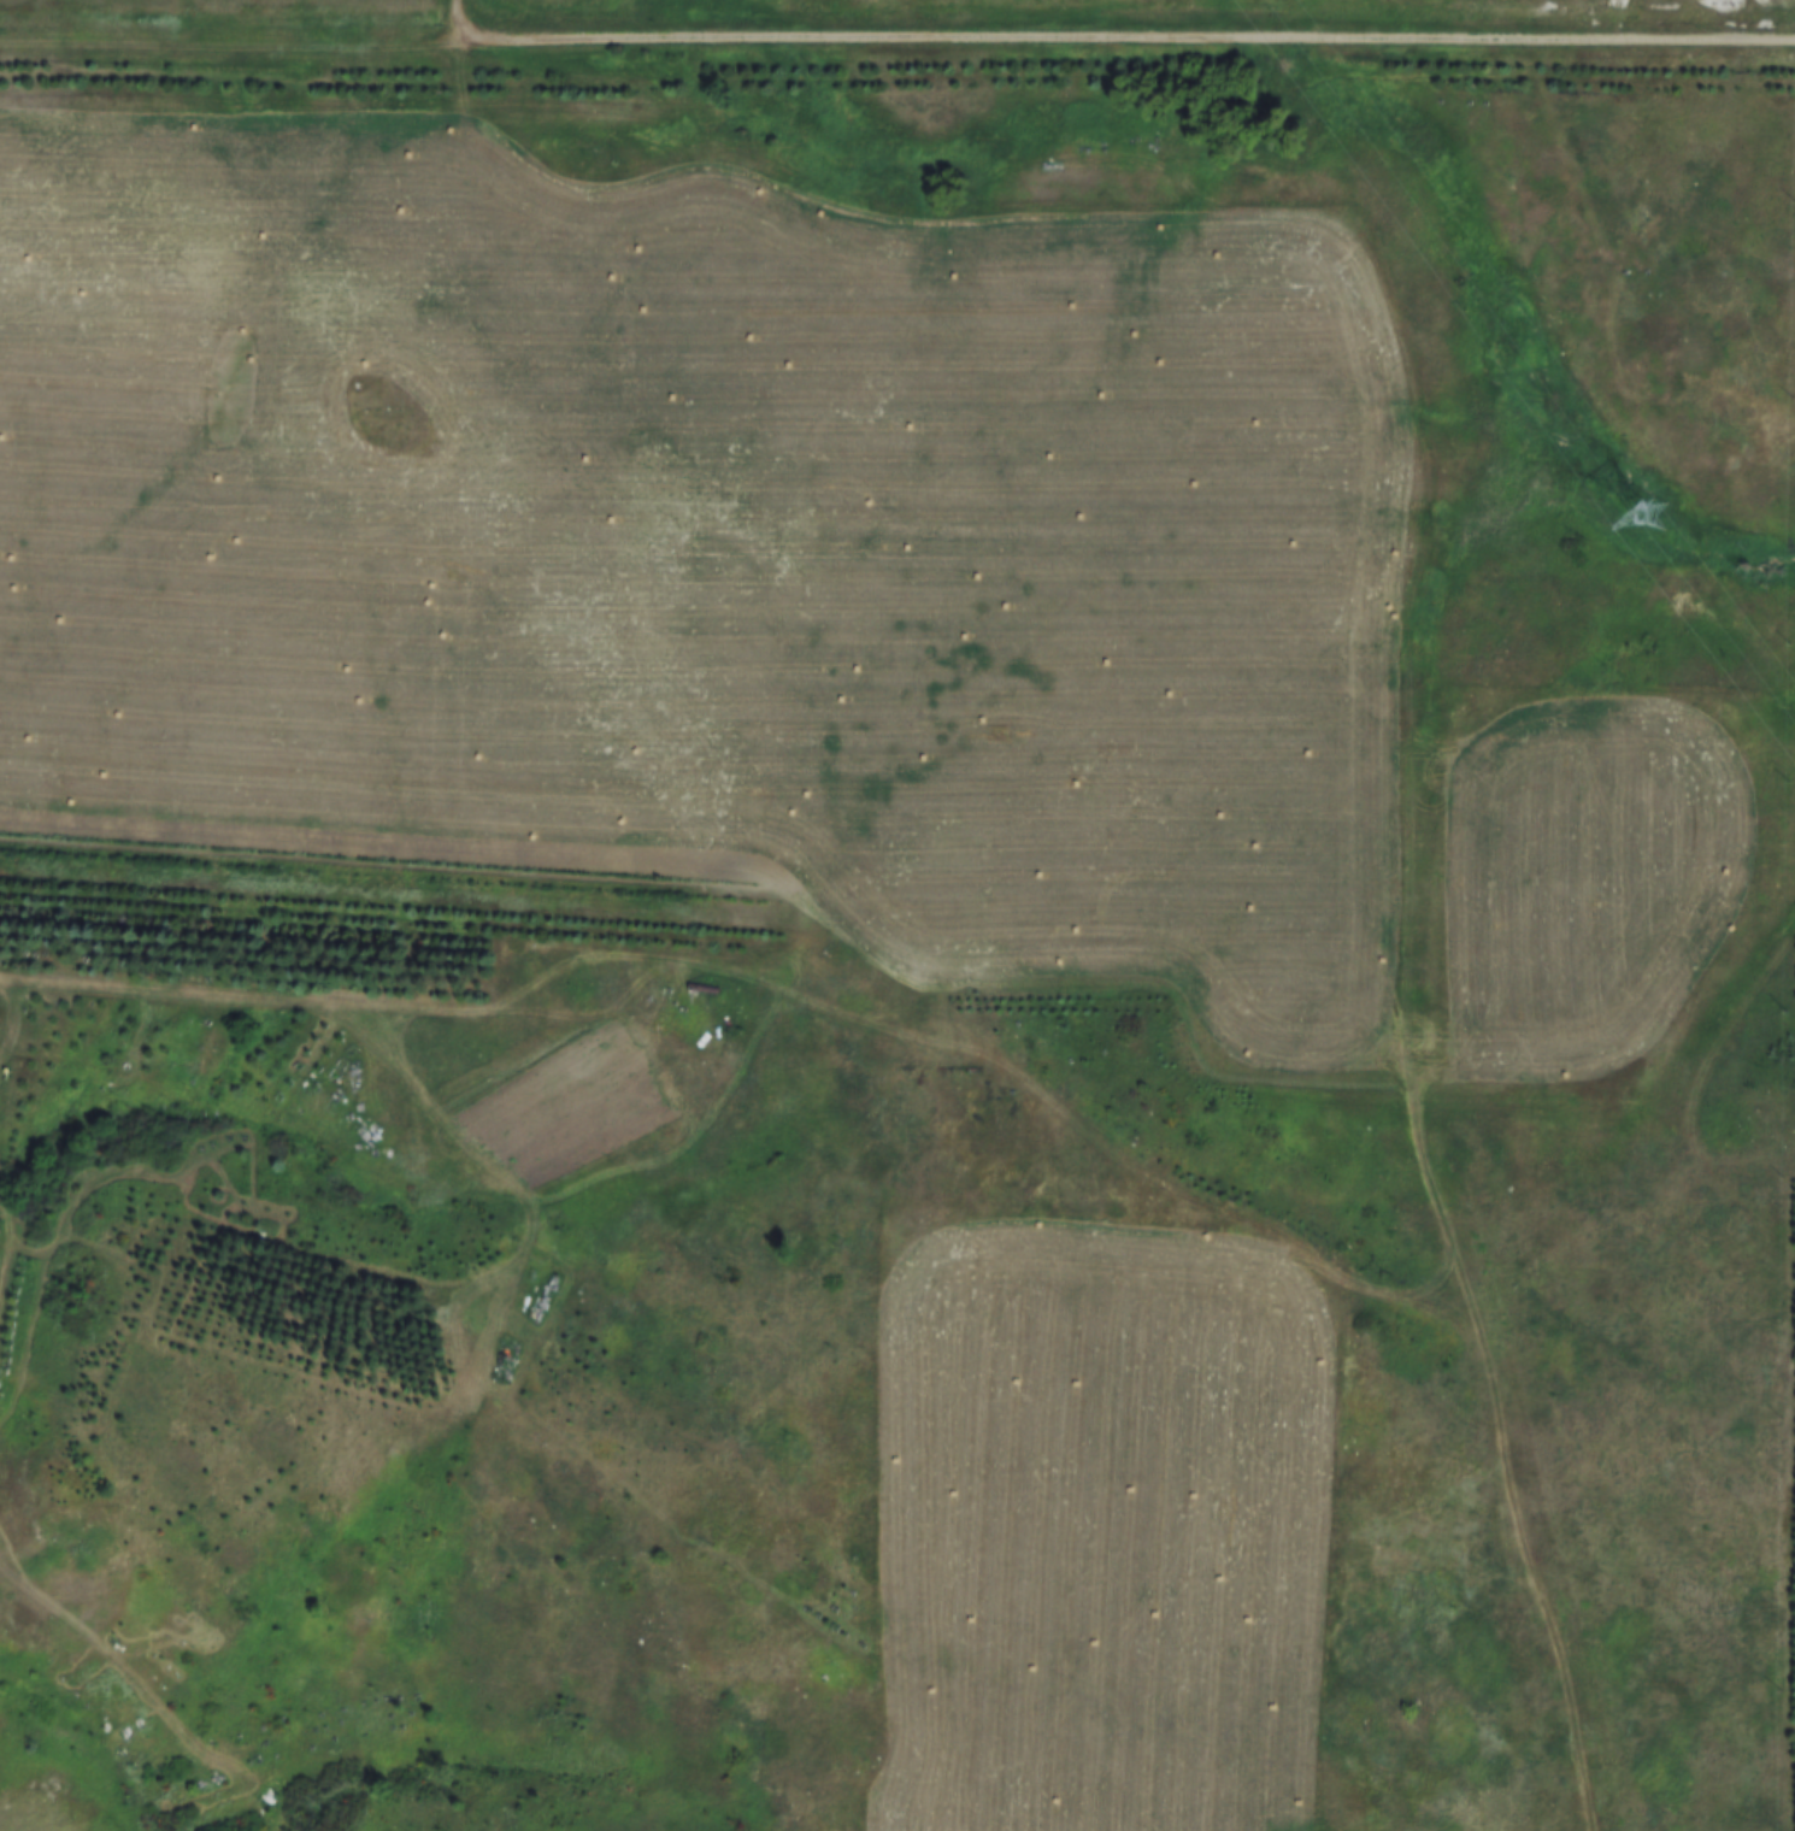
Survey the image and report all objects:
road: (464, 7)
road: (1123, 46)
power tower: (1650, 516)

